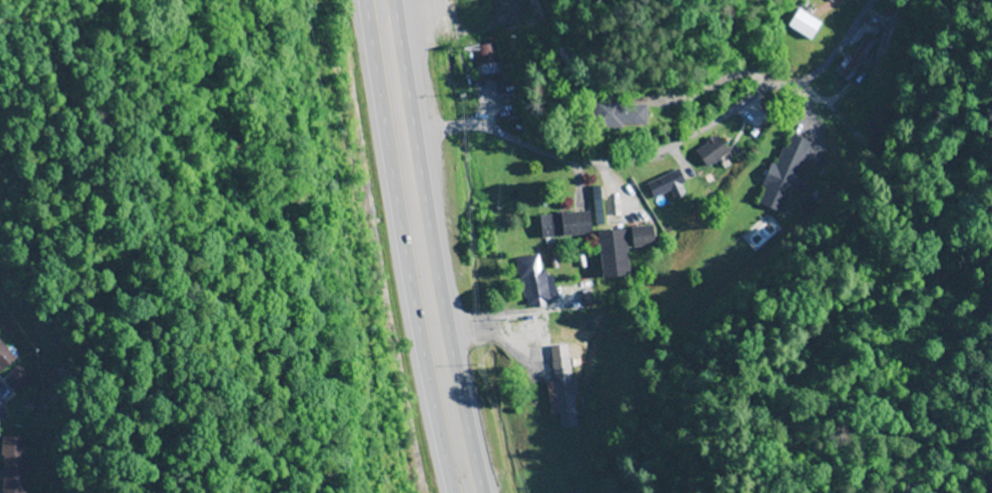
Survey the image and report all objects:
building: (560, 51)
building: (856, 60)
building: (488, 64)
building: (619, 116)
road: (450, 123)
building: (879, 132)
building: (712, 152)
building: (785, 173)
building: (664, 186)
building: (597, 207)
building: (565, 226)
building: (642, 237)
road: (416, 247)
building: (613, 254)
building: (535, 283)
building: (4, 359)
building: (18, 380)
building: (563, 387)
building: (12, 463)

